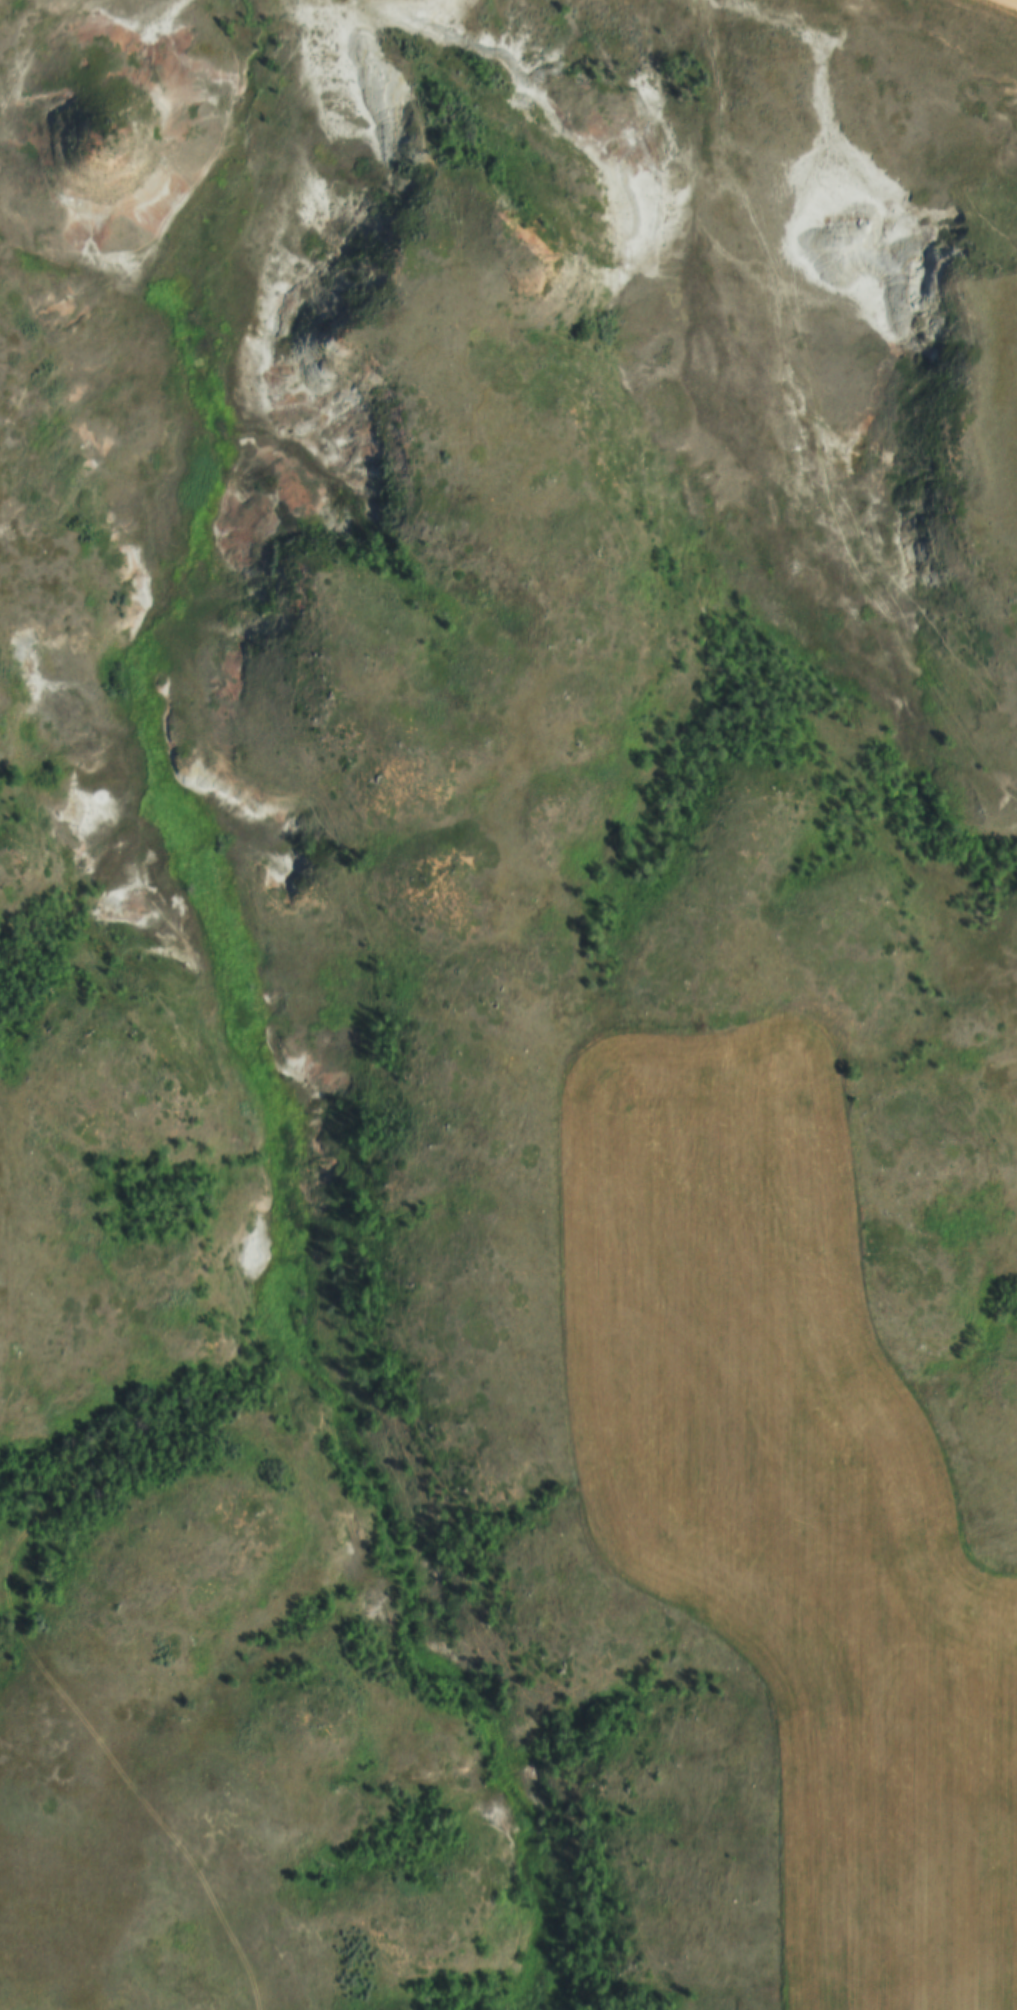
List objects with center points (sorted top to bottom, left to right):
road: (1000, 4)

